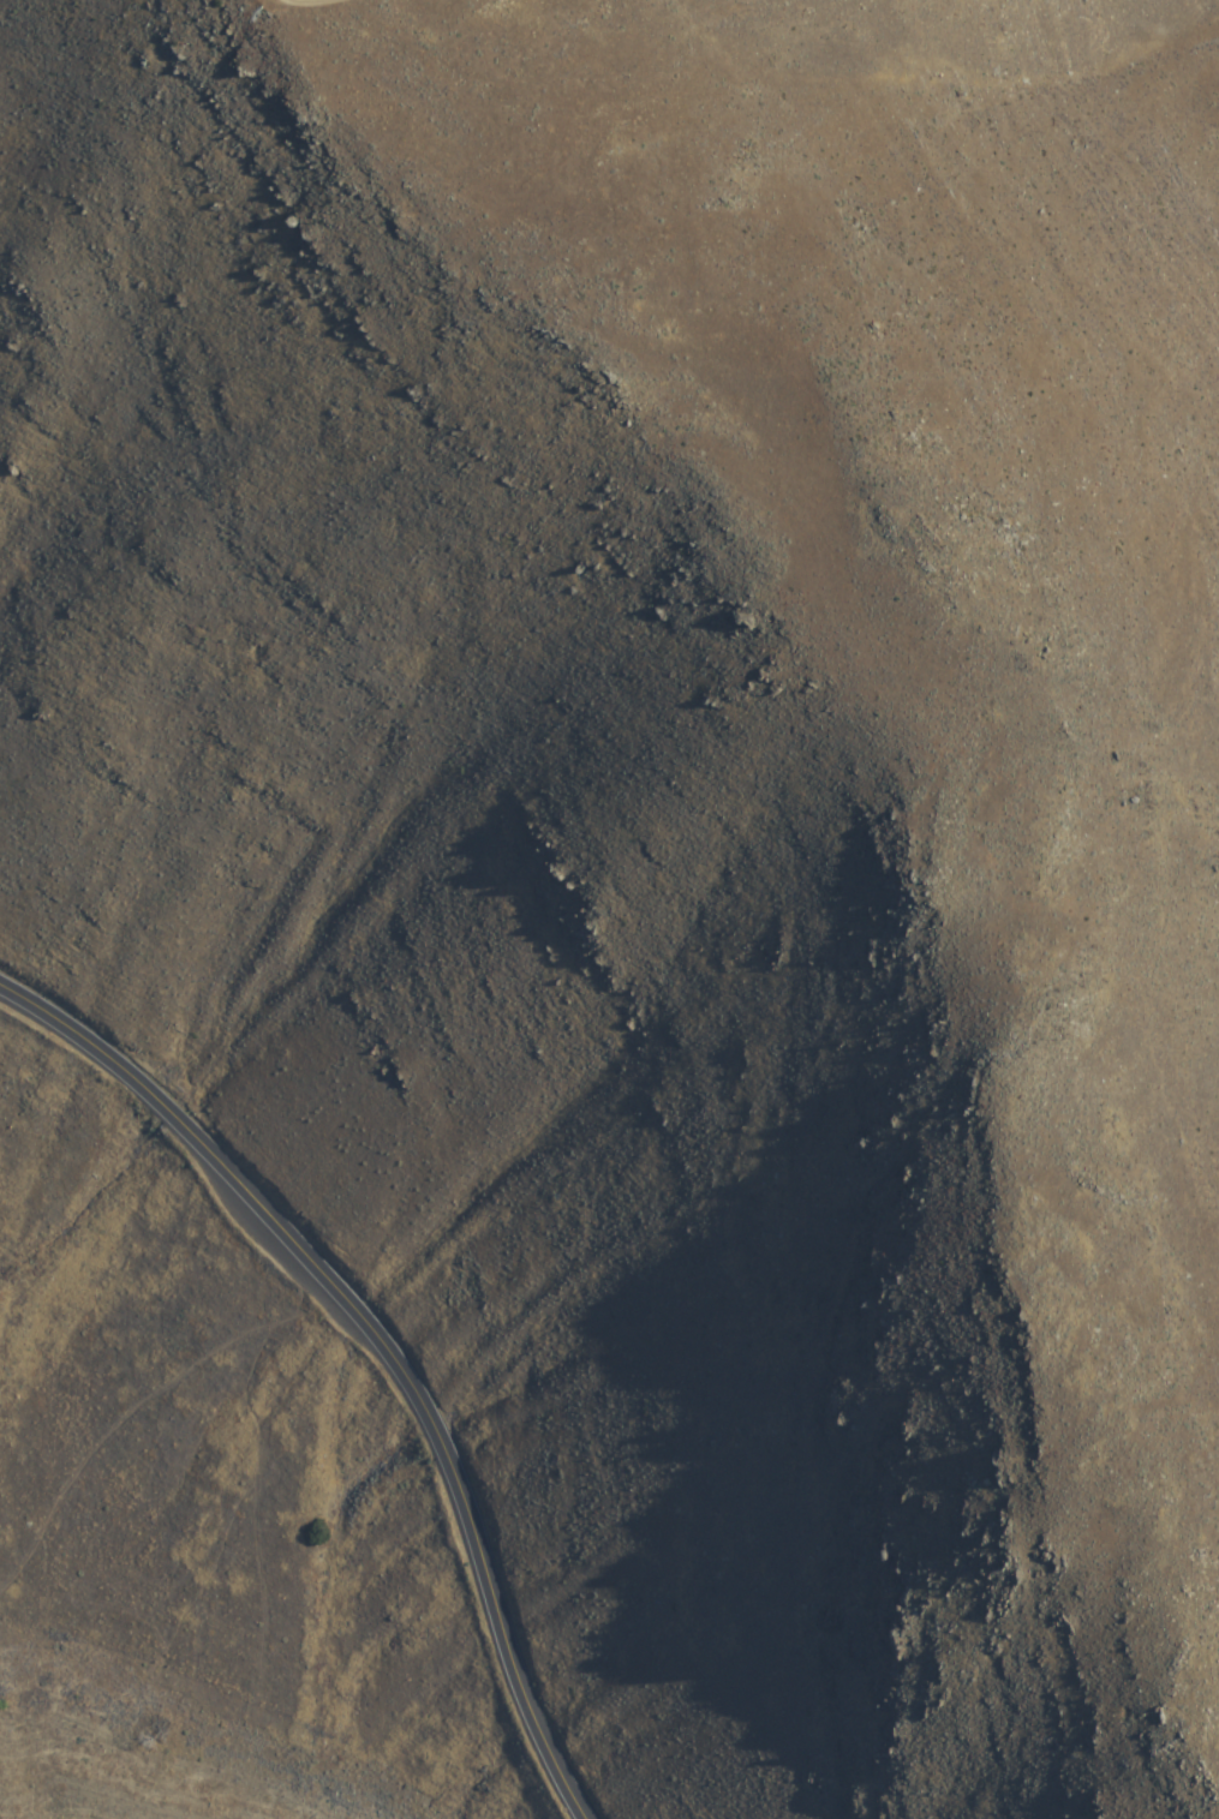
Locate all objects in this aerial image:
road: (323, 12)
road: (381, 1340)
road: (185, 1745)

